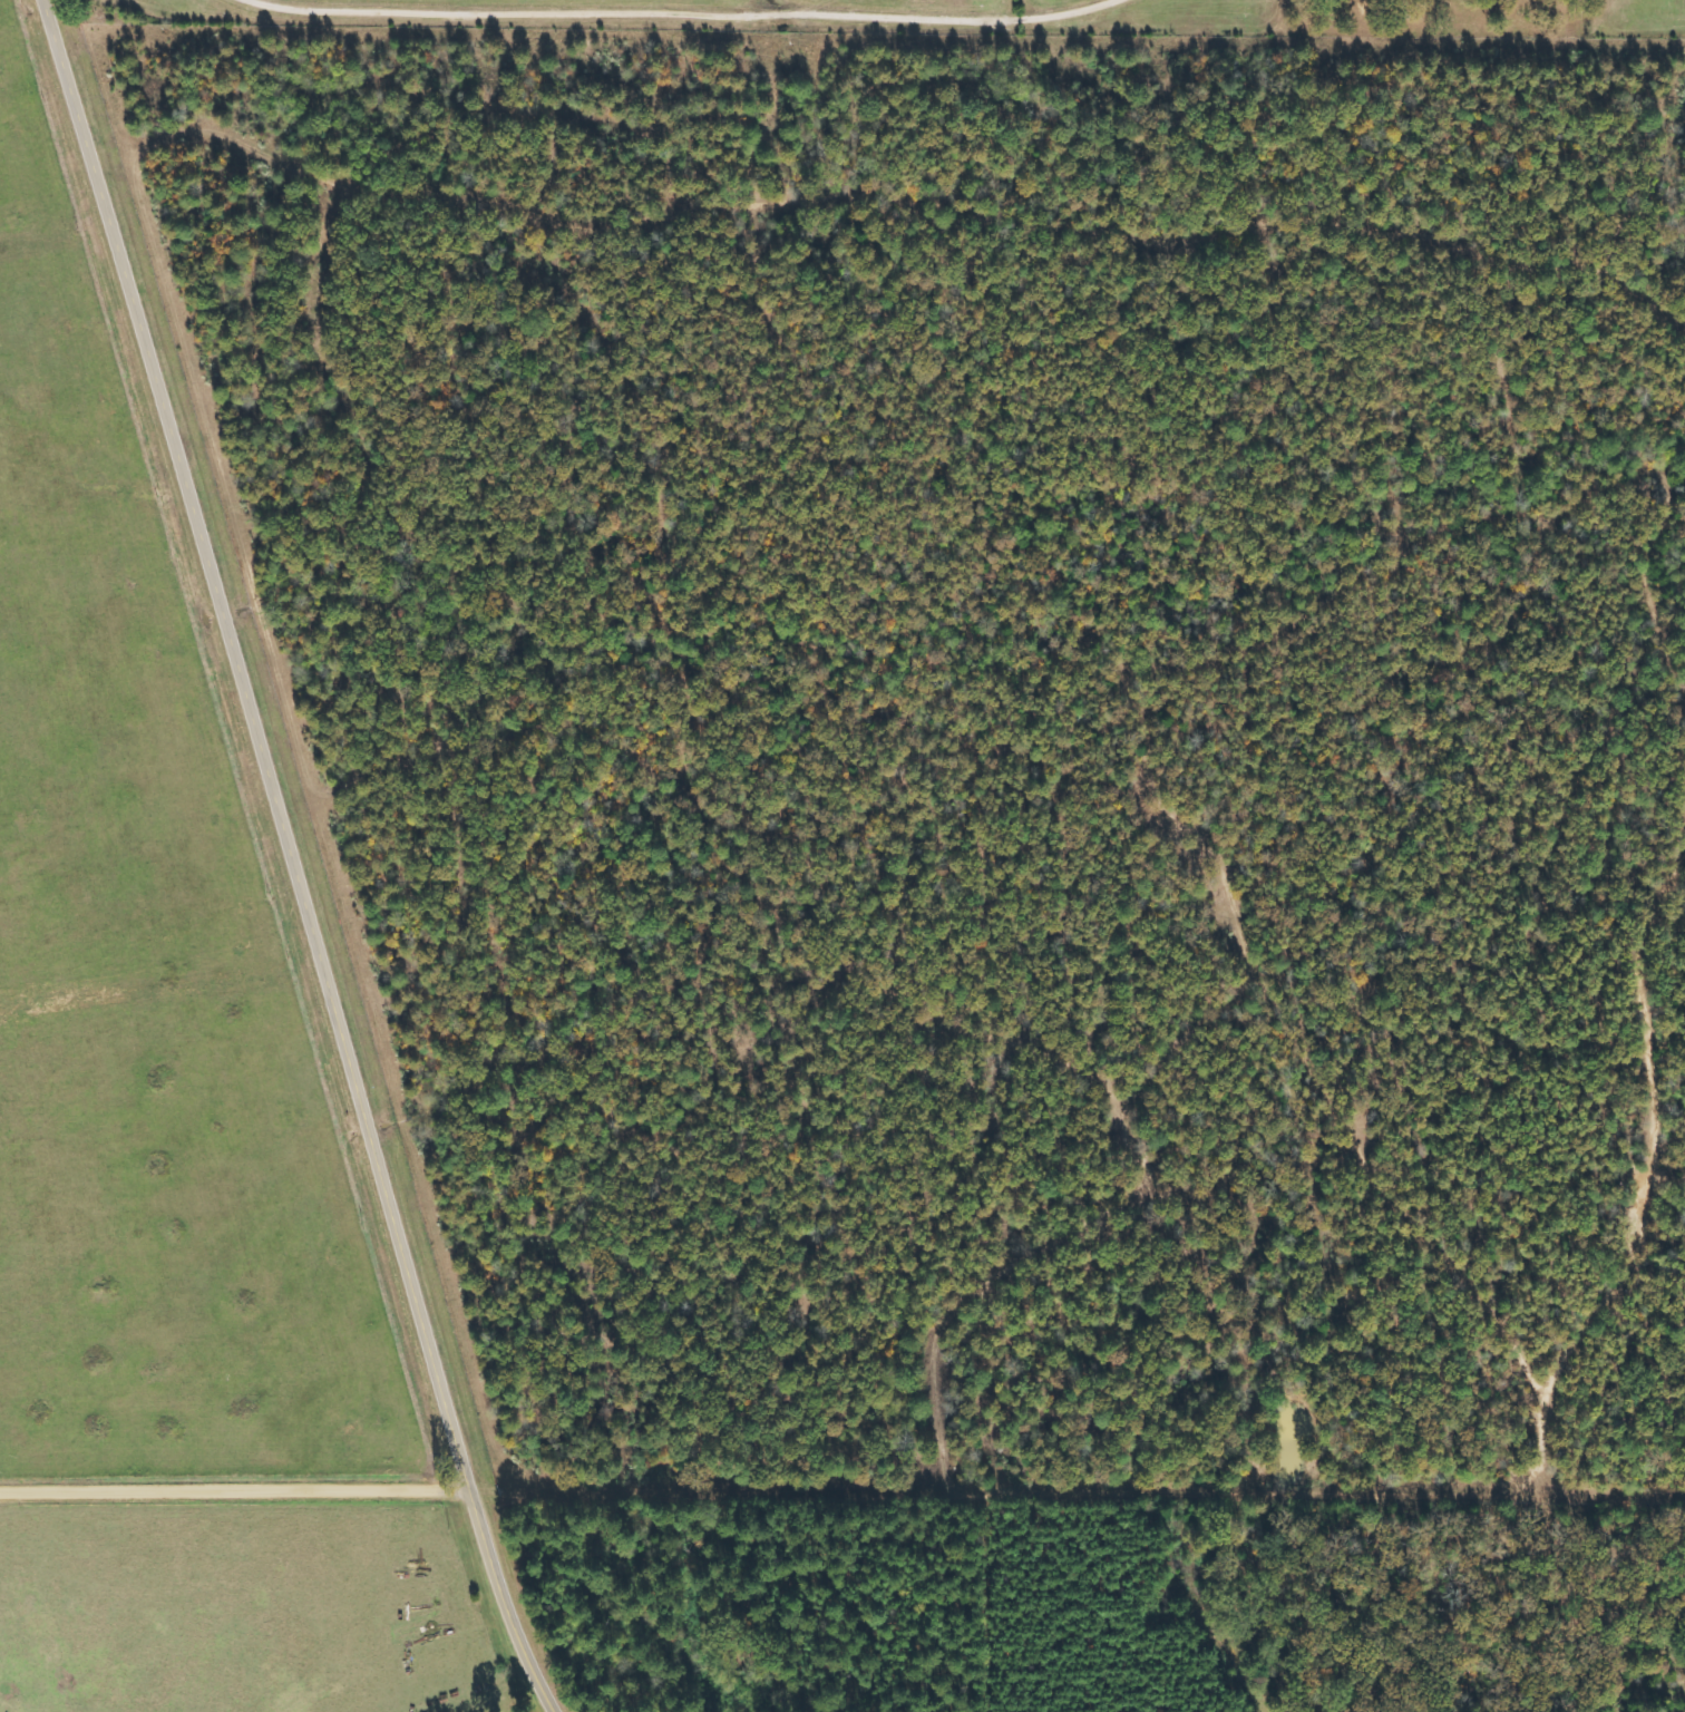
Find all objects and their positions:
road: (292, 859)
road: (235, 1492)

